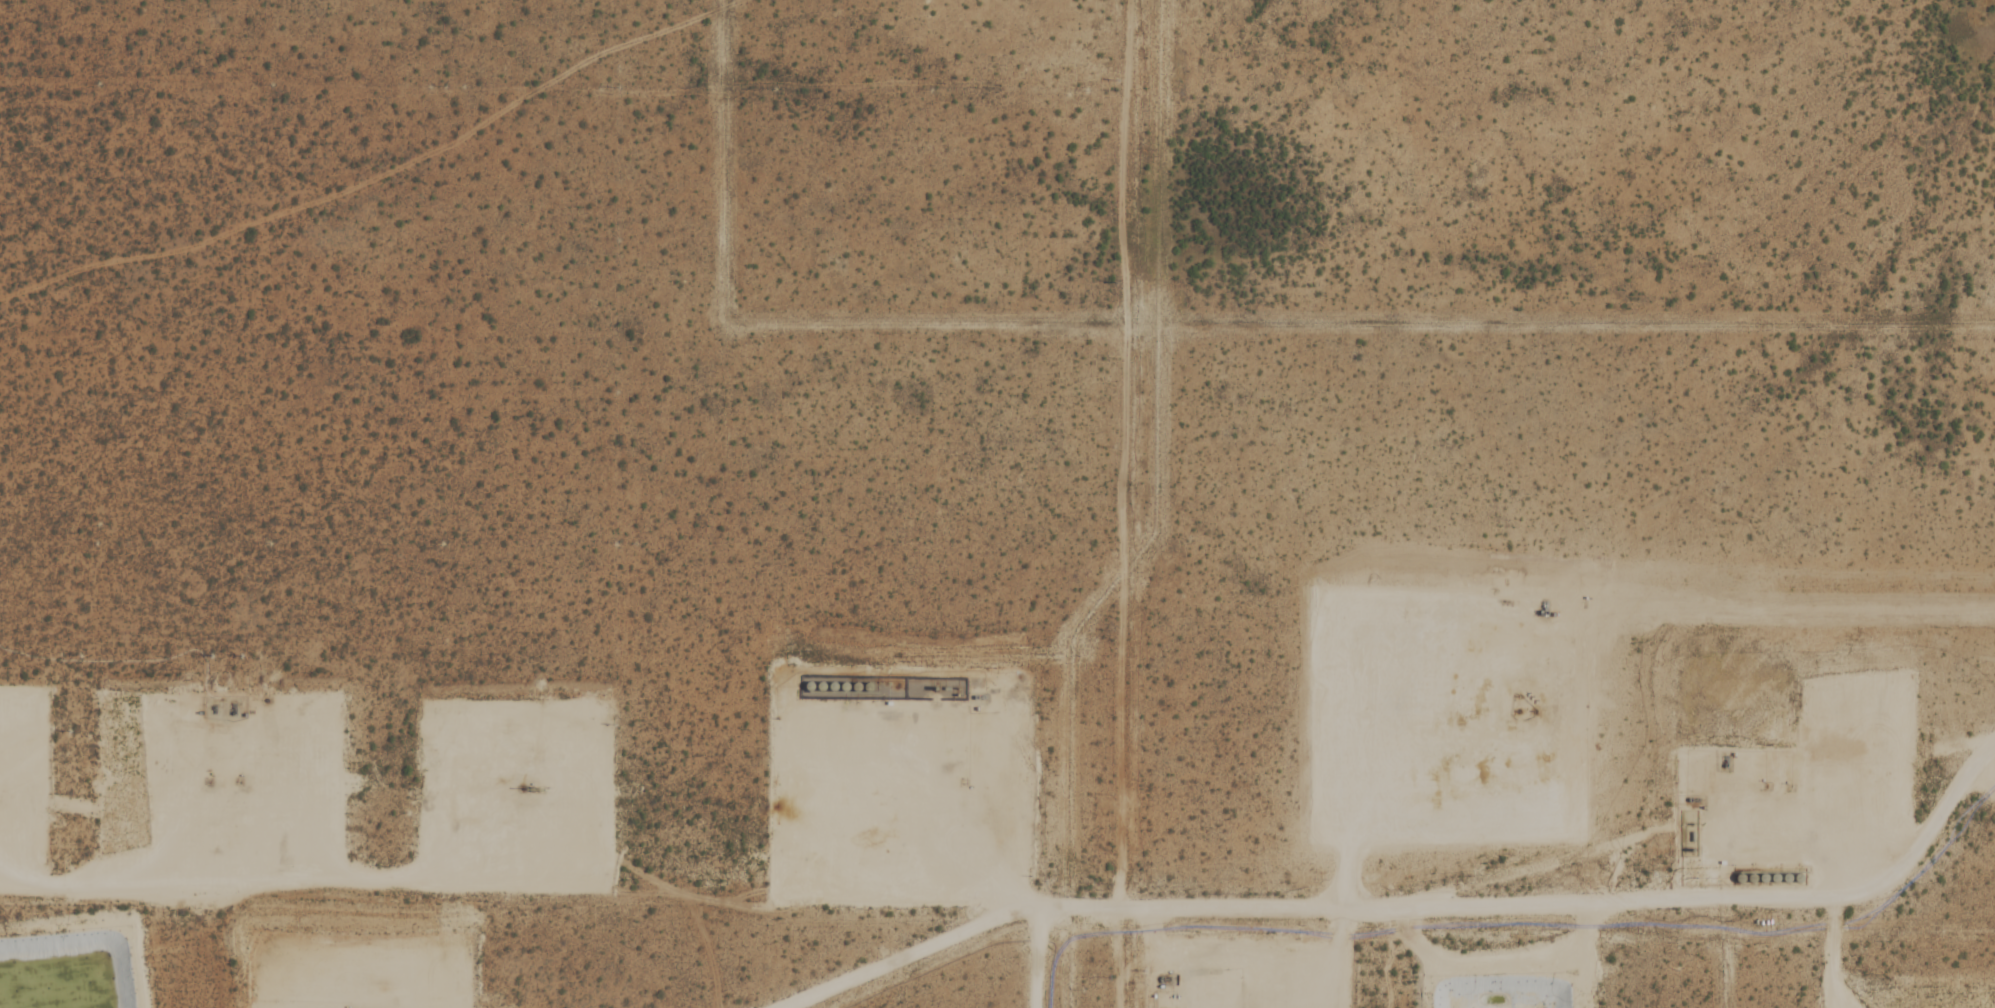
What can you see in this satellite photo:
road: (1358, 675)
road: (18, 755)
road: (1988, 778)
road: (503, 788)
road: (195, 798)
road: (911, 799)
road: (1805, 840)
road: (293, 865)
road: (1407, 892)
road: (1842, 948)
road: (1355, 950)
road: (1025, 952)
road: (408, 980)

